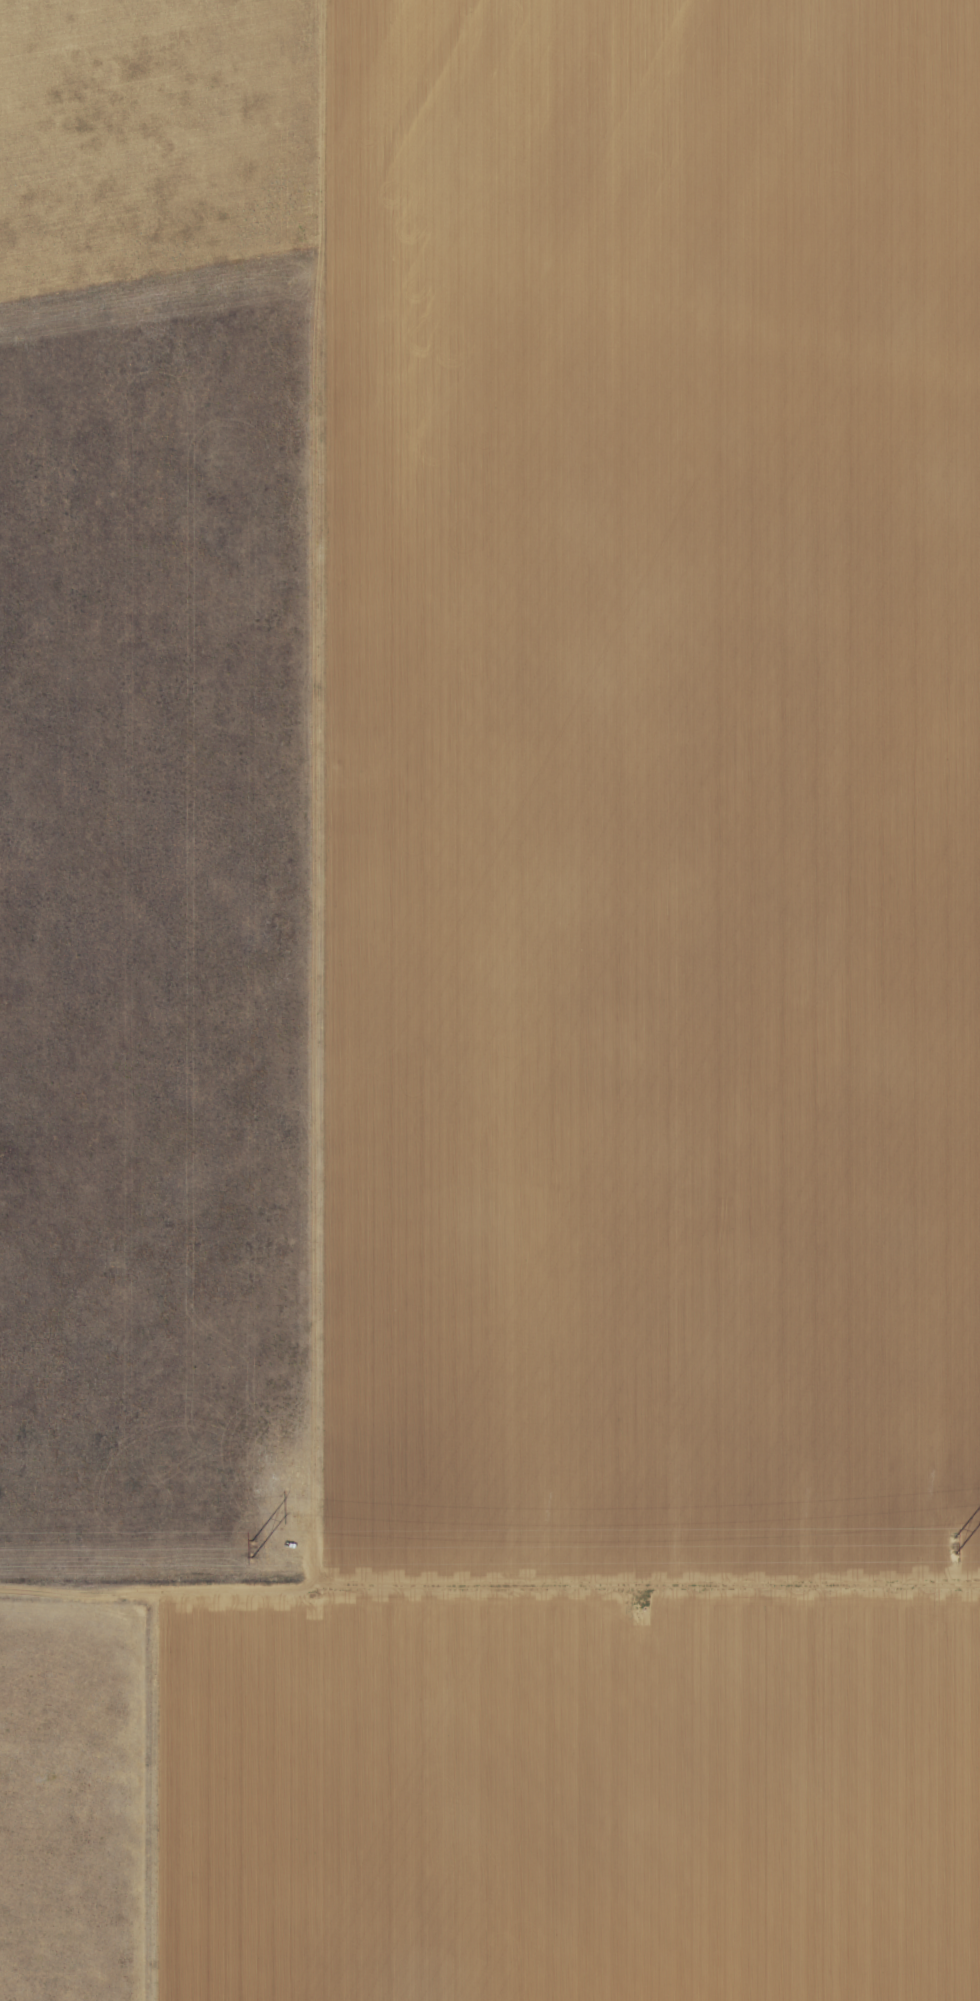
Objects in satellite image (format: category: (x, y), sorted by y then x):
power tower: (955, 1547)
power tower: (252, 1550)
road: (490, 1580)

